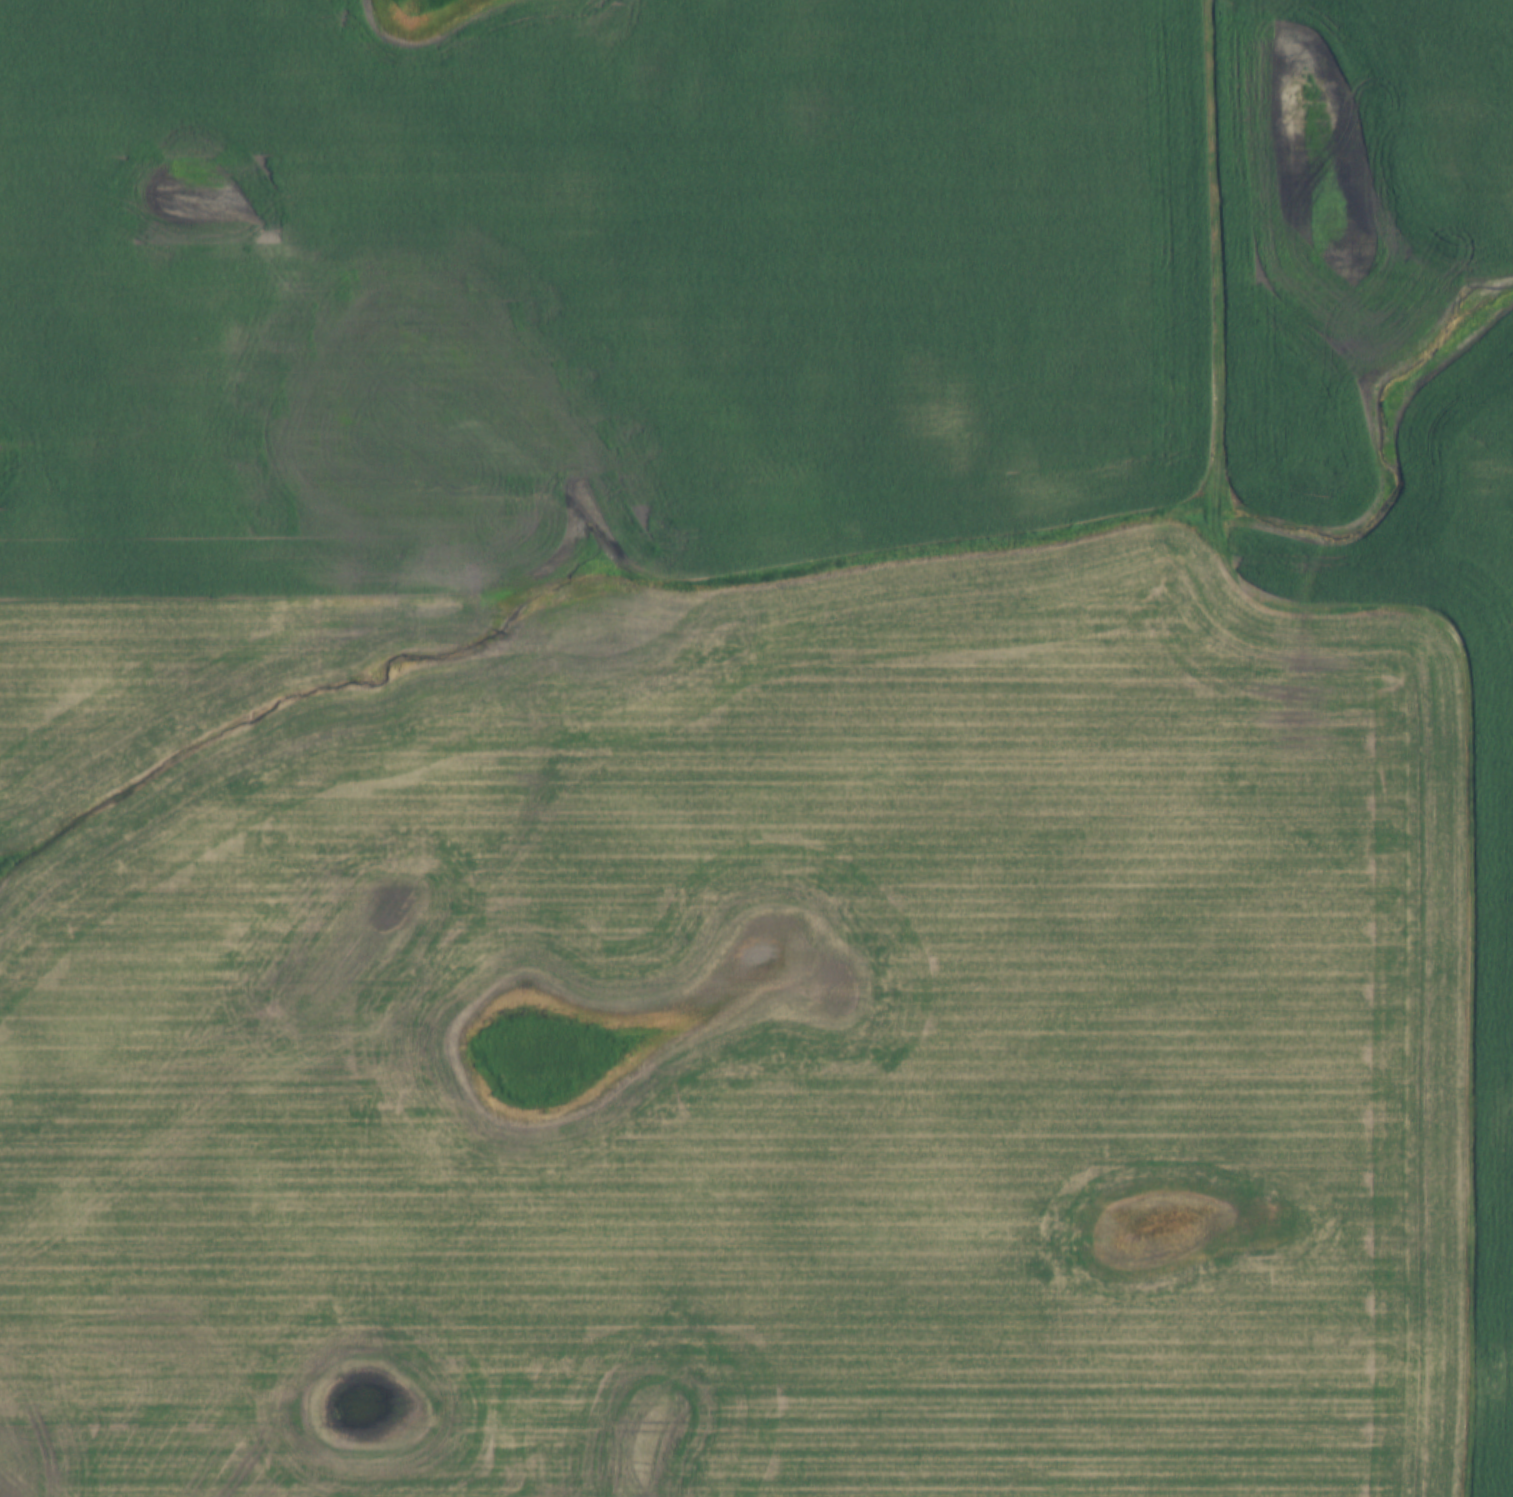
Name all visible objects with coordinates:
road: (1435, 652)

